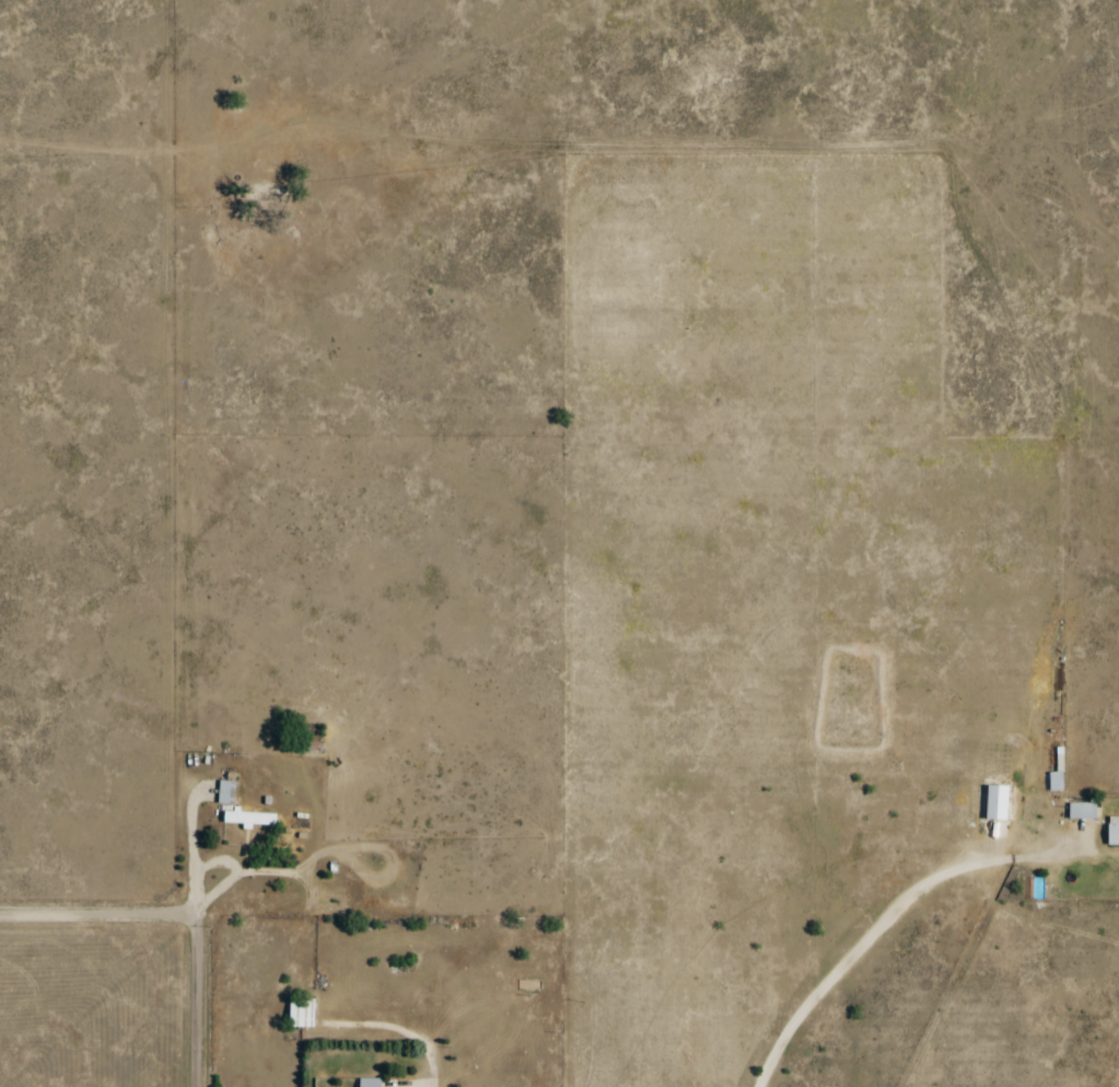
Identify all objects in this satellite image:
building: (1058, 773)
building: (225, 793)
building: (1082, 810)
building: (248, 819)
building: (1112, 831)
road: (100, 917)
road: (199, 965)
building: (301, 1013)
road: (439, 1014)

